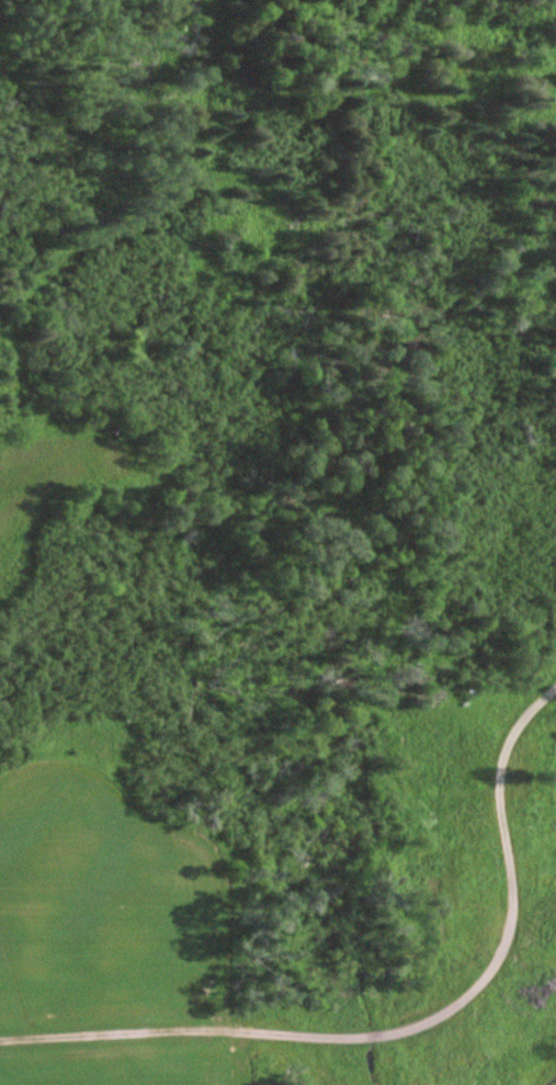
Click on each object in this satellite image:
road: (405, 1018)

